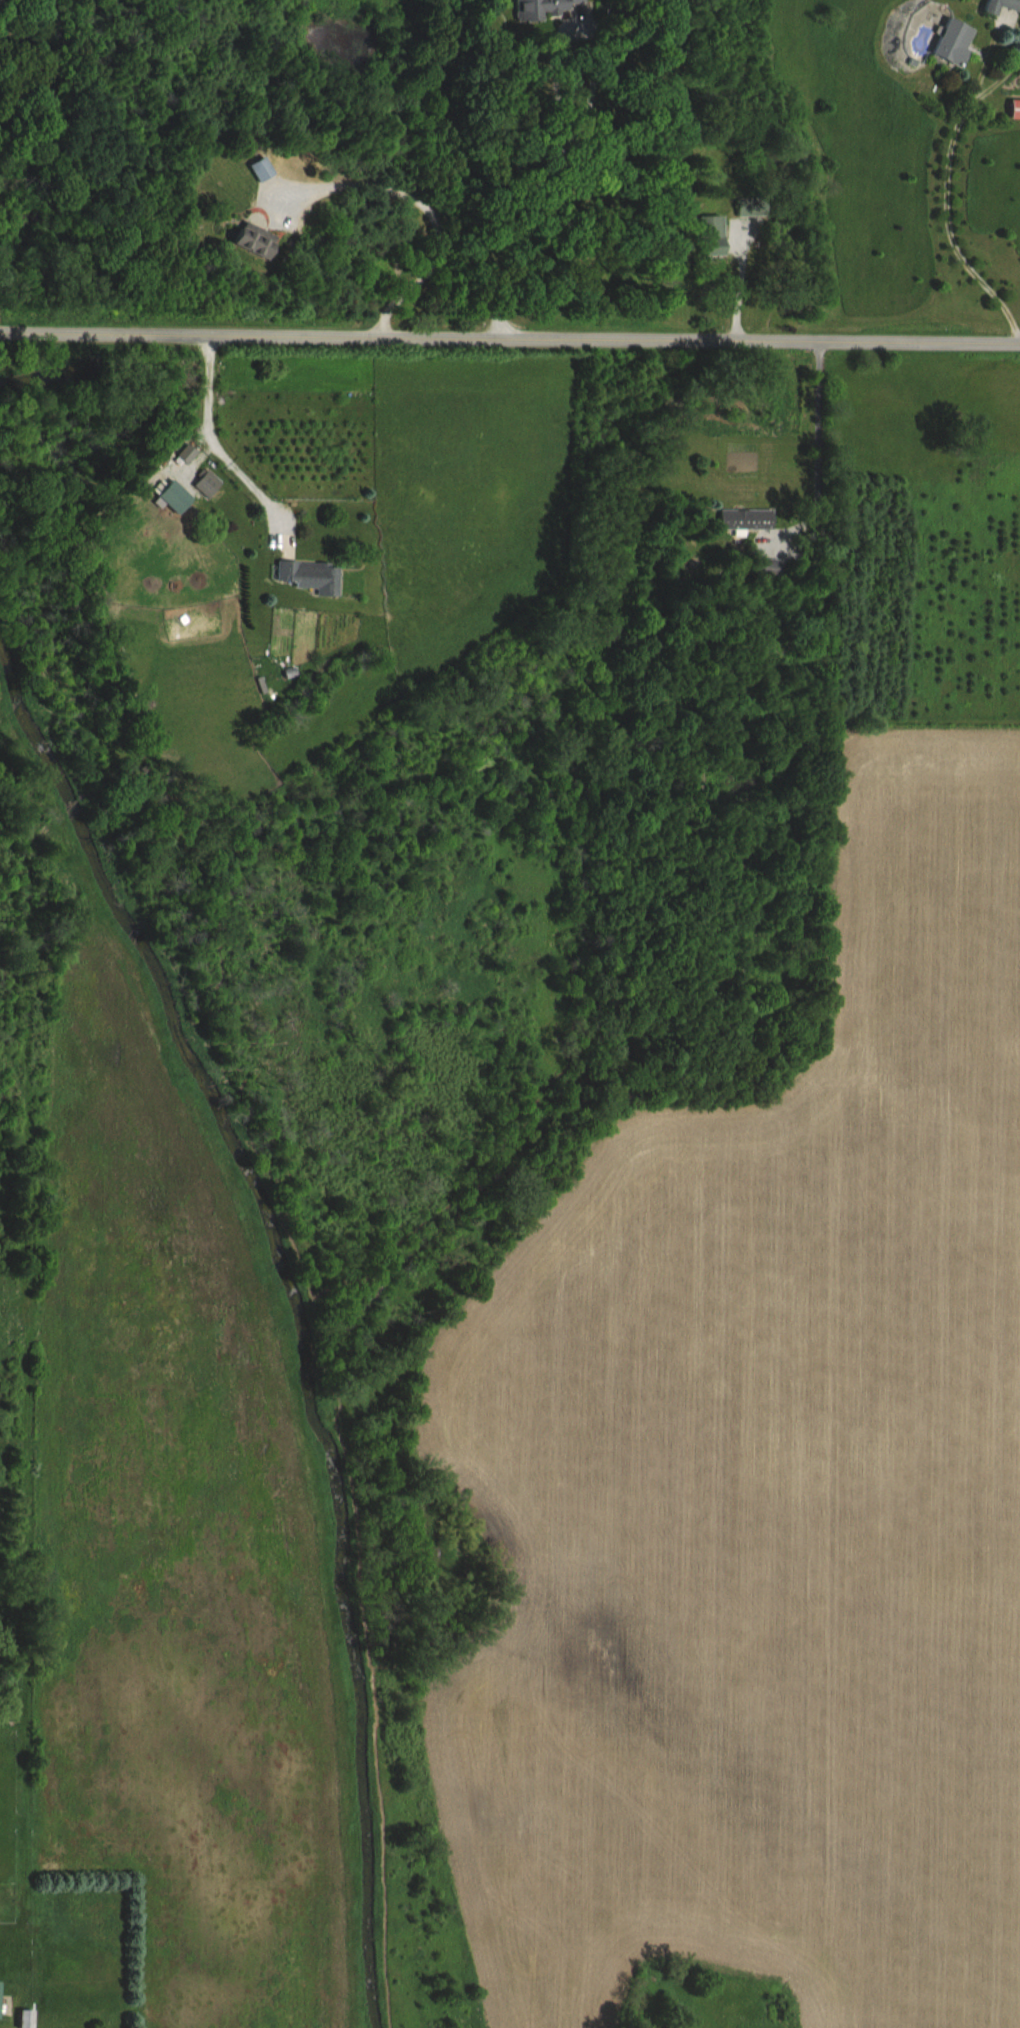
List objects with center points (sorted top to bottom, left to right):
building: (1002, 6)
building: (536, 8)
road: (1004, 18)
road: (1018, 26)
building: (927, 30)
building: (953, 44)
building: (912, 61)
road: (987, 64)
road: (1001, 81)
building: (1014, 112)
road: (562, 147)
building: (257, 169)
road: (258, 192)
building: (745, 206)
road: (949, 220)
road: (430, 221)
building: (706, 235)
building: (250, 240)
road: (735, 285)
road: (495, 300)
road: (1019, 326)
road: (510, 336)
road: (212, 447)
road: (812, 462)
building: (205, 482)
building: (171, 496)
building: (743, 517)
building: (764, 566)
building: (306, 574)
building: (21, 2019)

